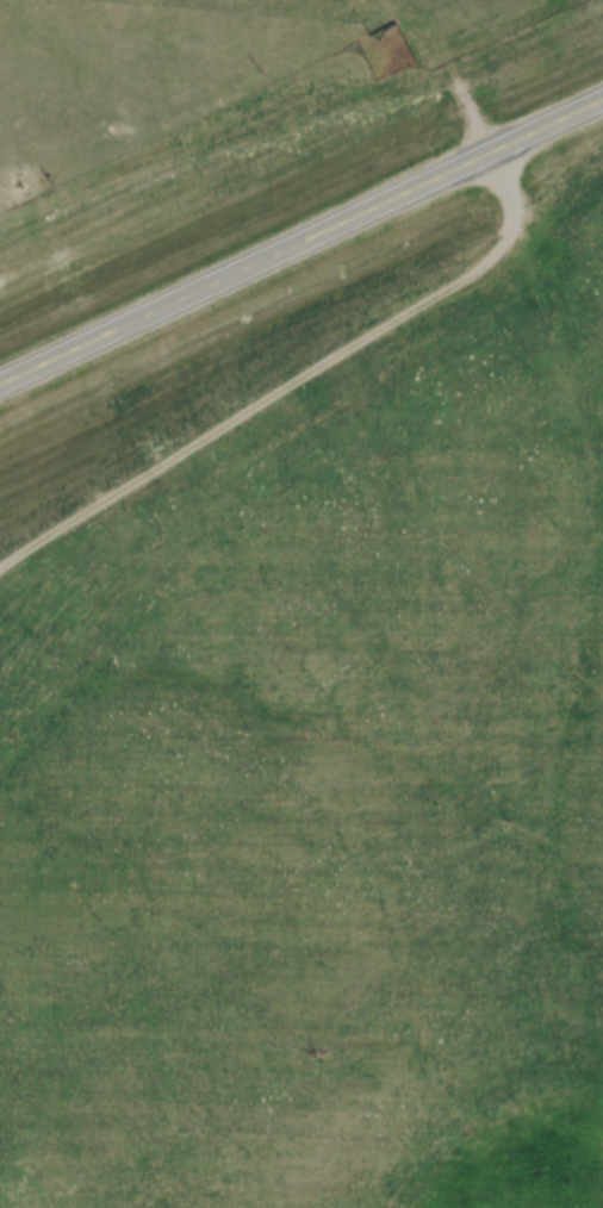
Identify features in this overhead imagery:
road: (300, 242)
road: (294, 381)

